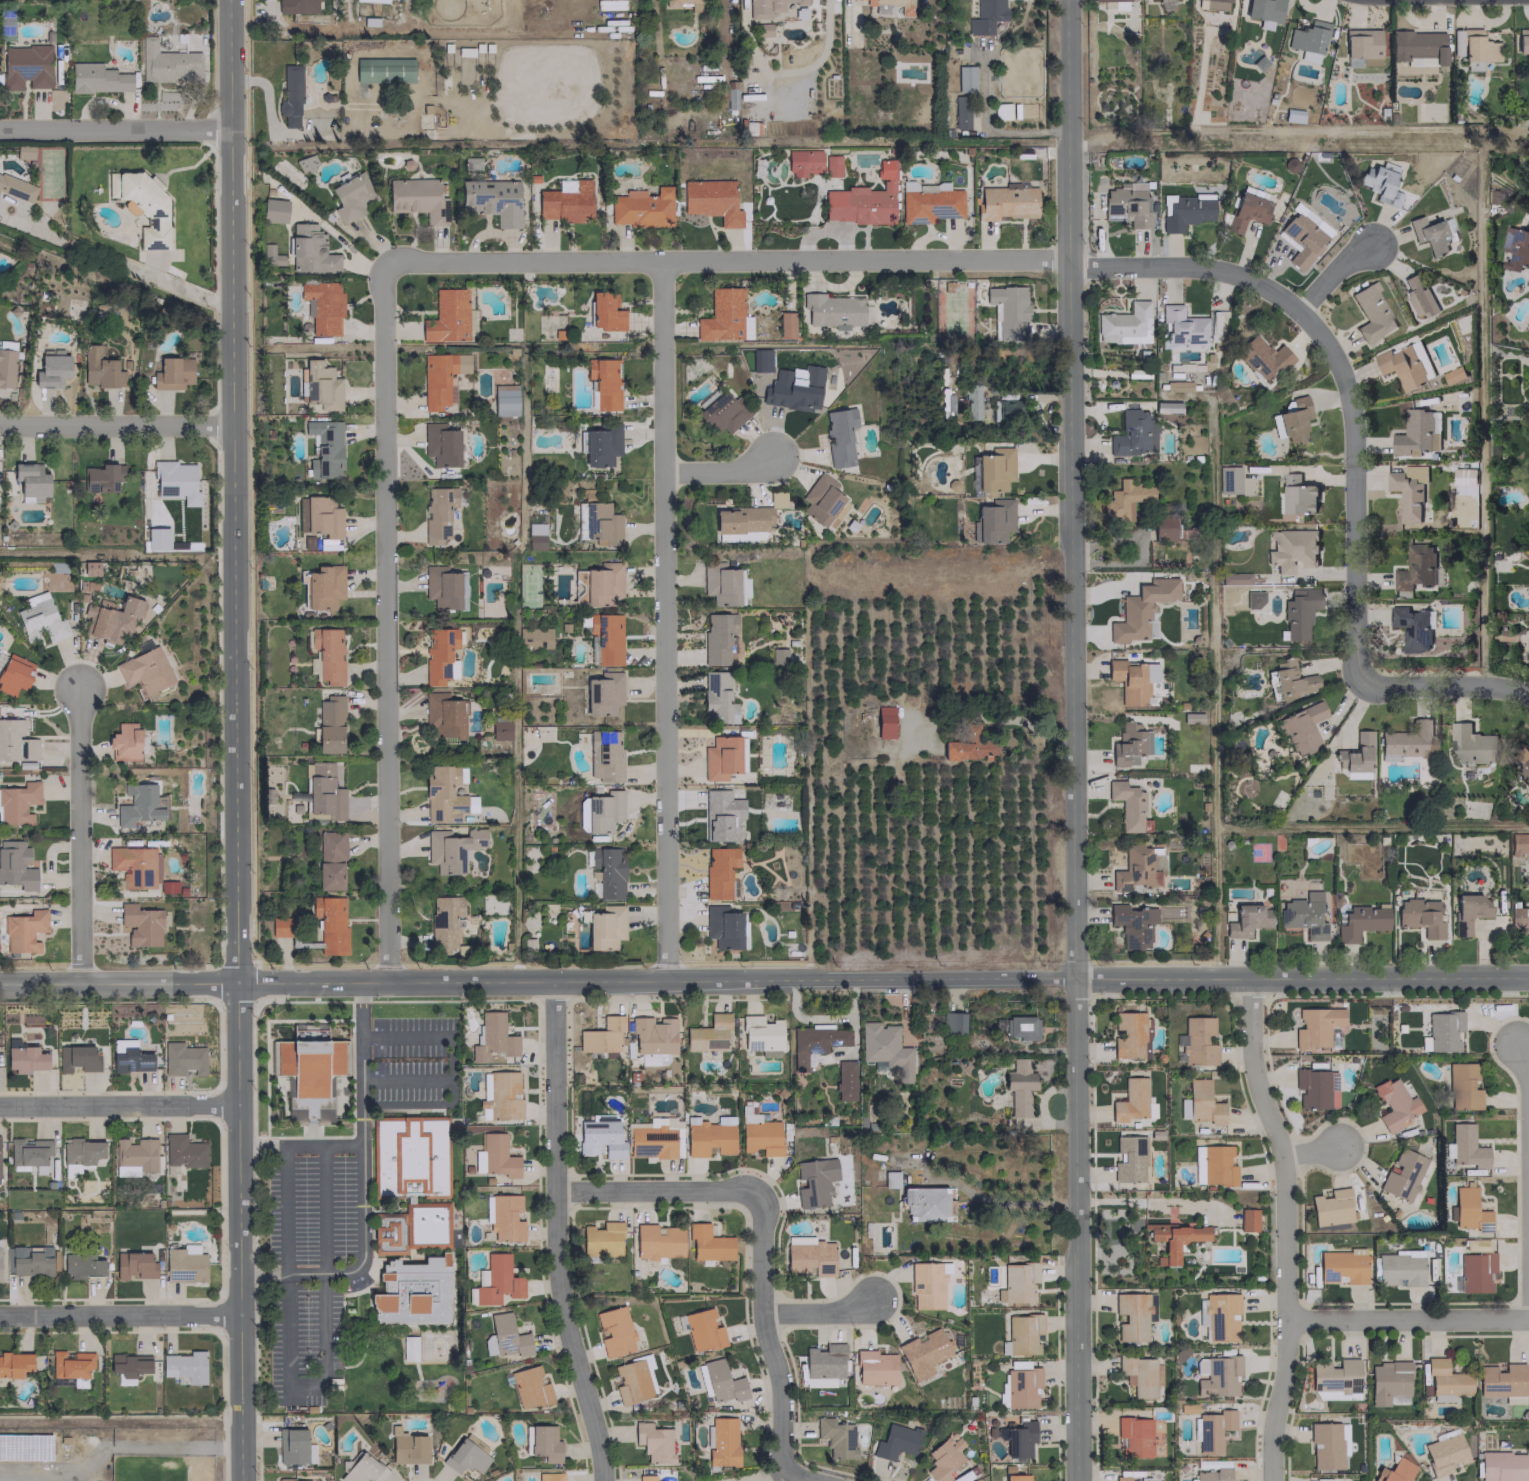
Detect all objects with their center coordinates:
building: (372, 0)
building: (1112, 0)
building: (1213, 4)
building: (670, 5)
building: (284, 6)
building: (768, 7)
building: (880, 9)
building: (1264, 12)
building: (986, 16)
building: (763, 29)
building: (1308, 40)
building: (1523, 42)
building: (1362, 45)
building: (1417, 45)
building: (1477, 49)
building: (167, 63)
building: (26, 66)
building: (384, 70)
building: (97, 78)
building: (965, 78)
building: (290, 95)
building: (730, 99)
building: (1001, 111)
building: (961, 112)
building: (1293, 115)
building: (428, 118)
road: (115, 128)
building: (24, 152)
building: (305, 162)
building: (803, 162)
building: (830, 165)
building: (1377, 179)
building: (16, 188)
building: (352, 196)
building: (417, 199)
building: (491, 200)
building: (711, 200)
building: (863, 200)
building: (1392, 200)
building: (565, 201)
building: (929, 201)
building: (1006, 202)
building: (1126, 204)
building: (142, 206)
building: (641, 207)
building: (274, 210)
building: (1185, 210)
building: (1248, 210)
building: (1429, 234)
building: (1302, 239)
building: (1515, 248)
building: (310, 250)
building: (271, 255)
road: (846, 261)
road: (120, 263)
road: (1334, 273)
building: (1418, 296)
building: (322, 306)
building: (1007, 310)
building: (837, 311)
building: (1371, 313)
building: (447, 316)
building: (724, 316)
building: (471, 320)
building: (785, 324)
building: (1124, 324)
building: (1185, 327)
building: (1262, 357)
building: (6, 364)
building: (1404, 366)
building: (98, 367)
building: (52, 369)
building: (172, 372)
building: (1453, 374)
building: (441, 378)
building: (604, 384)
building: (1177, 386)
building: (794, 389)
building: (504, 399)
building: (971, 402)
building: (945, 403)
building: (1166, 406)
building: (1005, 409)
building: (724, 413)
building: (1291, 420)
road: (114, 423)
building: (1417, 432)
building: (1133, 434)
building: (839, 436)
building: (440, 444)
building: (601, 445)
building: (324, 448)
building: (994, 469)
road: (720, 471)
building: (1463, 476)
building: (102, 477)
building: (1228, 479)
building: (175, 481)
building: (31, 482)
road: (1071, 488)
road: (1355, 488)
building: (1408, 491)
building: (1298, 495)
building: (821, 499)
building: (1125, 500)
building: (438, 513)
building: (746, 516)
building: (321, 517)
building: (992, 521)
building: (598, 523)
building: (1163, 529)
building: (535, 535)
road: (1141, 549)
building: (1291, 549)
building: (1415, 568)
building: (1234, 578)
building: (603, 582)
building: (720, 583)
building: (324, 586)
building: (441, 587)
building: (1234, 595)
building: (1141, 610)
building: (1299, 612)
building: (40, 618)
road: (663, 620)
building: (110, 621)
road: (384, 623)
building: (1413, 627)
building: (533, 637)
building: (717, 637)
building: (327, 653)
building: (438, 653)
building: (778, 656)
building: (145, 670)
building: (15, 674)
building: (1133, 679)
building: (1290, 679)
road: (1445, 680)
building: (717, 697)
building: (442, 714)
building: (1192, 717)
building: (884, 722)
building: (329, 724)
building: (1300, 727)
building: (500, 730)
building: (124, 740)
road: (233, 740)
building: (1409, 740)
building: (16, 741)
building: (1470, 744)
building: (968, 745)
building: (1126, 745)
building: (604, 756)
building: (720, 757)
building: (1355, 757)
building: (1524, 770)
building: (323, 792)
building: (442, 795)
building: (18, 802)
building: (139, 804)
building: (1127, 805)
building: (603, 811)
building: (721, 815)
road: (77, 834)
building: (451, 848)
building: (330, 859)
building: (16, 865)
building: (134, 866)
building: (1133, 868)
building: (608, 871)
building: (720, 872)
building: (1469, 911)
building: (1305, 915)
building: (1420, 916)
building: (444, 920)
building: (1247, 920)
building: (1361, 922)
building: (330, 923)
building: (1132, 924)
building: (140, 925)
building: (281, 927)
building: (605, 927)
building: (722, 927)
building: (24, 931)
building: (528, 944)
road: (882, 978)
road: (117, 982)
building: (954, 1023)
building: (1317, 1027)
building: (1020, 1028)
building: (1443, 1031)
building: (708, 1034)
building: (1130, 1034)
building: (603, 1035)
building: (761, 1035)
building: (493, 1038)
building: (651, 1038)
building: (1198, 1041)
building: (815, 1043)
building: (885, 1049)
road: (354, 1057)
building: (25, 1058)
building: (76, 1058)
parking lot: (412, 1058)
road: (450, 1058)
building: (130, 1059)
building: (182, 1059)
building: (310, 1066)
building: (844, 1080)
building: (1462, 1086)
building: (1019, 1087)
building: (1315, 1088)
building: (1132, 1101)
building: (1203, 1103)
building: (1394, 1104)
road: (118, 1105)
road: (310, 1113)
building: (323, 1114)
building: (295, 1115)
road: (362, 1125)
building: (759, 1134)
road: (310, 1135)
building: (708, 1137)
building: (600, 1138)
building: (651, 1141)
building: (1465, 1147)
road: (1310, 1149)
building: (28, 1151)
building: (183, 1151)
building: (134, 1155)
building: (495, 1156)
building: (410, 1157)
building: (1128, 1159)
building: (1197, 1164)
building: (1217, 1165)
building: (1402, 1174)
road: (1527, 1176)
building: (890, 1179)
building: (814, 1181)
road: (658, 1192)
road: (1005, 1201)
road: (1159, 1202)
building: (924, 1204)
building: (1330, 1207)
building: (1468, 1210)
building: (505, 1217)
building: (1247, 1219)
road: (1281, 1227)
building: (412, 1229)
road: (1076, 1229)
road: (556, 1234)
building: (601, 1239)
building: (1174, 1239)
building: (658, 1241)
building: (708, 1243)
building: (808, 1257)
building: (29, 1260)
parking lot: (312, 1260)
building: (184, 1264)
building: (135, 1265)
road: (358, 1265)
building: (81, 1266)
building: (1341, 1267)
building: (1477, 1267)
building: (1400, 1268)
building: (496, 1280)
building: (1017, 1282)
building: (926, 1285)
building: (413, 1292)
road: (818, 1312)
road: (119, 1315)
building: (1133, 1315)
building: (1220, 1317)
road: (1406, 1318)
building: (702, 1330)
building: (614, 1331)
building: (1022, 1335)
building: (507, 1336)
building: (408, 1348)
road: (769, 1351)
building: (922, 1353)
building: (14, 1364)
building: (70, 1364)
building: (823, 1365)
building: (129, 1366)
building: (185, 1366)
building: (874, 1367)
building: (1199, 1367)
building: (1140, 1374)
building: (1219, 1376)
building: (634, 1379)
building: (1445, 1380)
building: (722, 1382)
building: (1502, 1382)
building: (529, 1387)
building: (1021, 1387)
road: (306, 1388)
building: (1213, 1429)
building: (835, 1437)
building: (1133, 1437)
building: (1017, 1438)
building: (895, 1441)
building: (653, 1442)
building: (722, 1442)
building: (542, 1443)
road: (169, 1446)
building: (1325, 1446)
building: (294, 1447)
building: (407, 1447)
building: (1444, 1454)
building: (464, 1457)
building: (943, 1458)
building: (1502, 1466)
building: (362, 1469)
building: (1395, 1471)
building: (1213, 1474)
building: (550, 1476)
building: (1016, 1477)
building: (646, 1478)
building: (1121, 1478)
building: (293, 1479)
building: (1152, 1480)

